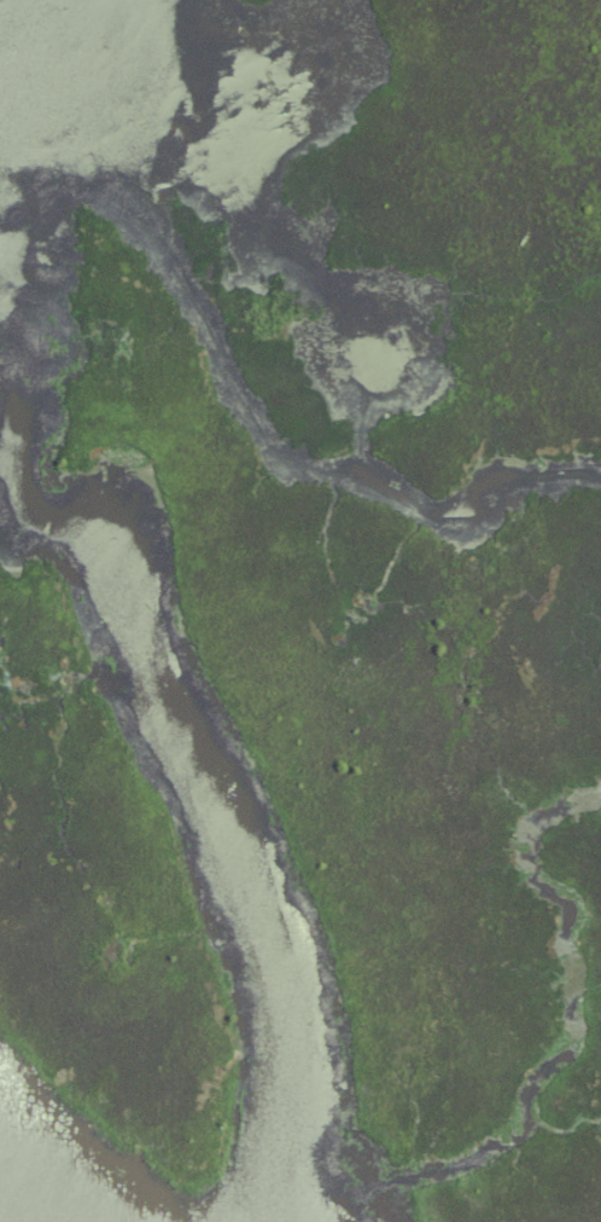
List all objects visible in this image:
river: (6, 1215)

